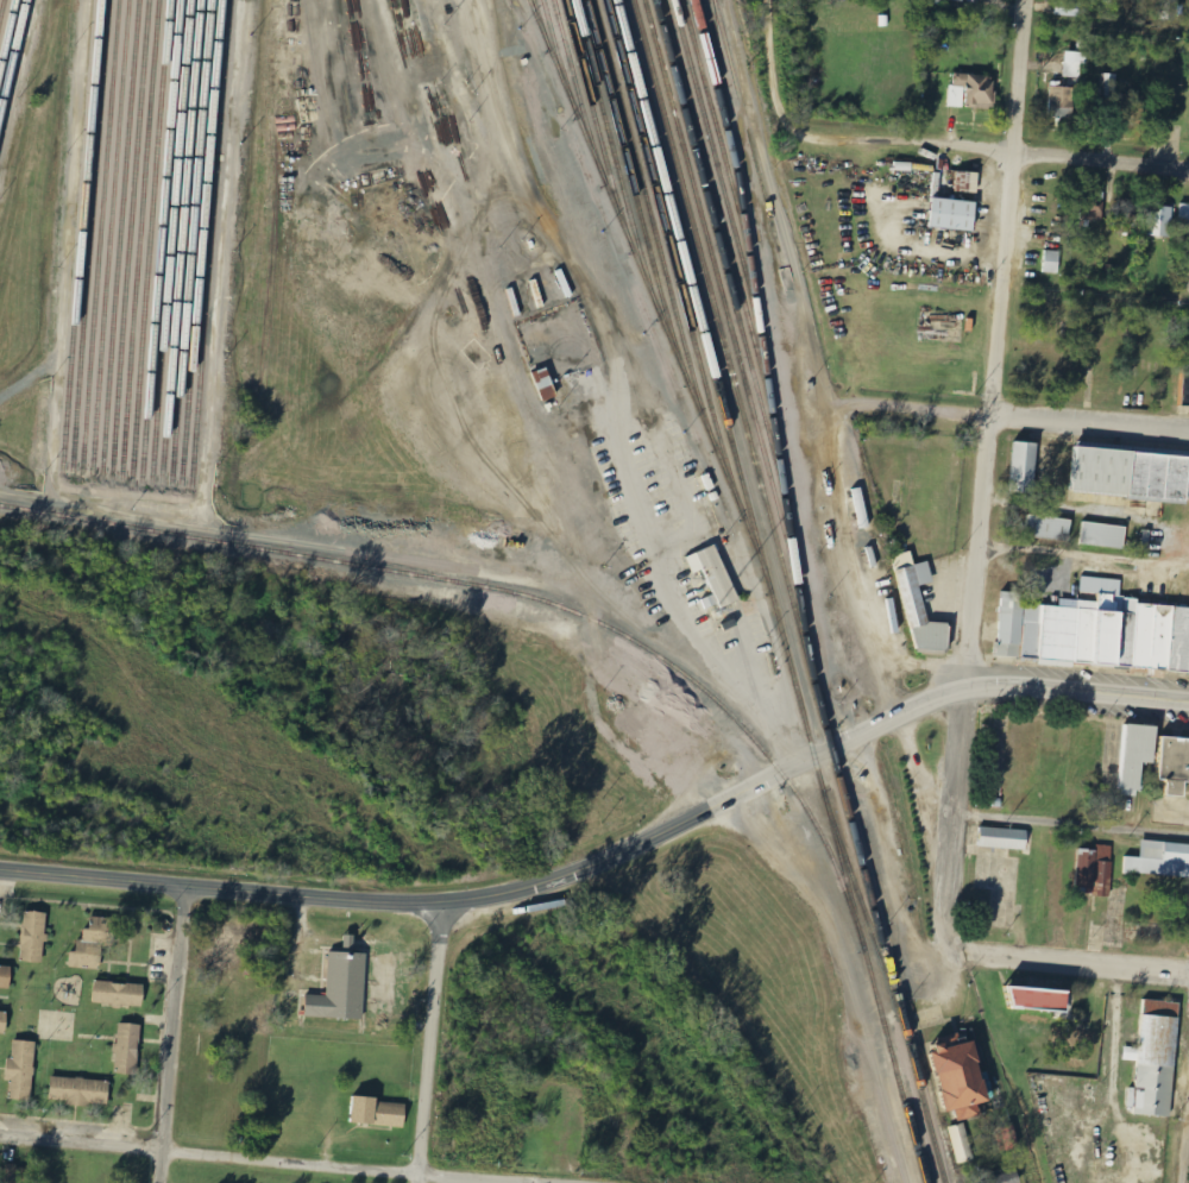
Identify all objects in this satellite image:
railway: (1, 7)
building: (1067, 10)
building: (1168, 10)
railway: (535, 13)
railway: (6, 31)
railway: (715, 40)
railway: (554, 46)
railway: (12, 54)
building: (1074, 63)
road: (770, 69)
railway: (721, 78)
railway: (574, 80)
building: (1109, 86)
building: (973, 90)
building: (1061, 102)
railway: (591, 109)
railway: (723, 120)
railway: (747, 132)
railway: (609, 139)
railway: (722, 157)
road: (990, 157)
railway: (629, 174)
building: (968, 182)
railway: (725, 201)
railway: (649, 213)
building: (1090, 213)
building: (955, 215)
building: (1182, 216)
building: (1160, 221)
railway: (101, 234)
railway: (111, 234)
railway: (90, 235)
railway: (120, 235)
railway: (131, 235)
railway: (80, 237)
railway: (140, 238)
railway: (151, 238)
railway: (161, 238)
railway: (170, 239)
railway: (180, 240)
railway: (200, 240)
railway: (209, 240)
railway: (668, 240)
railway: (190, 241)
railway: (728, 244)
building: (1188, 245)
building: (1052, 262)
railway: (647, 284)
railway: (732, 301)
railway: (734, 345)
building: (1187, 382)
building: (546, 384)
road: (1038, 420)
building: (1021, 468)
building: (1130, 473)
road: (992, 477)
railway: (770, 527)
building: (1046, 529)
building: (1101, 535)
road: (1087, 554)
building: (716, 574)
railway: (508, 591)
railway: (769, 591)
building: (918, 610)
building: (1096, 631)
road: (1077, 690)
building: (1139, 754)
building: (1176, 764)
building: (1005, 838)
building: (1158, 860)
building: (1096, 871)
road: (504, 892)
railway: (857, 899)
building: (33, 937)
building: (229, 942)
building: (92, 943)
road: (1065, 962)
building: (5, 976)
building: (339, 988)
building: (117, 994)
building: (1038, 998)
building: (2, 1022)
road: (170, 1033)
road: (428, 1043)
building: (126, 1049)
building: (1153, 1059)
building: (20, 1070)
building: (960, 1076)
building: (78, 1091)
building: (380, 1113)
railway: (926, 1119)
building: (962, 1147)
road: (249, 1160)
road: (1187, 1165)
building: (15, 1175)
building: (1008, 1179)

